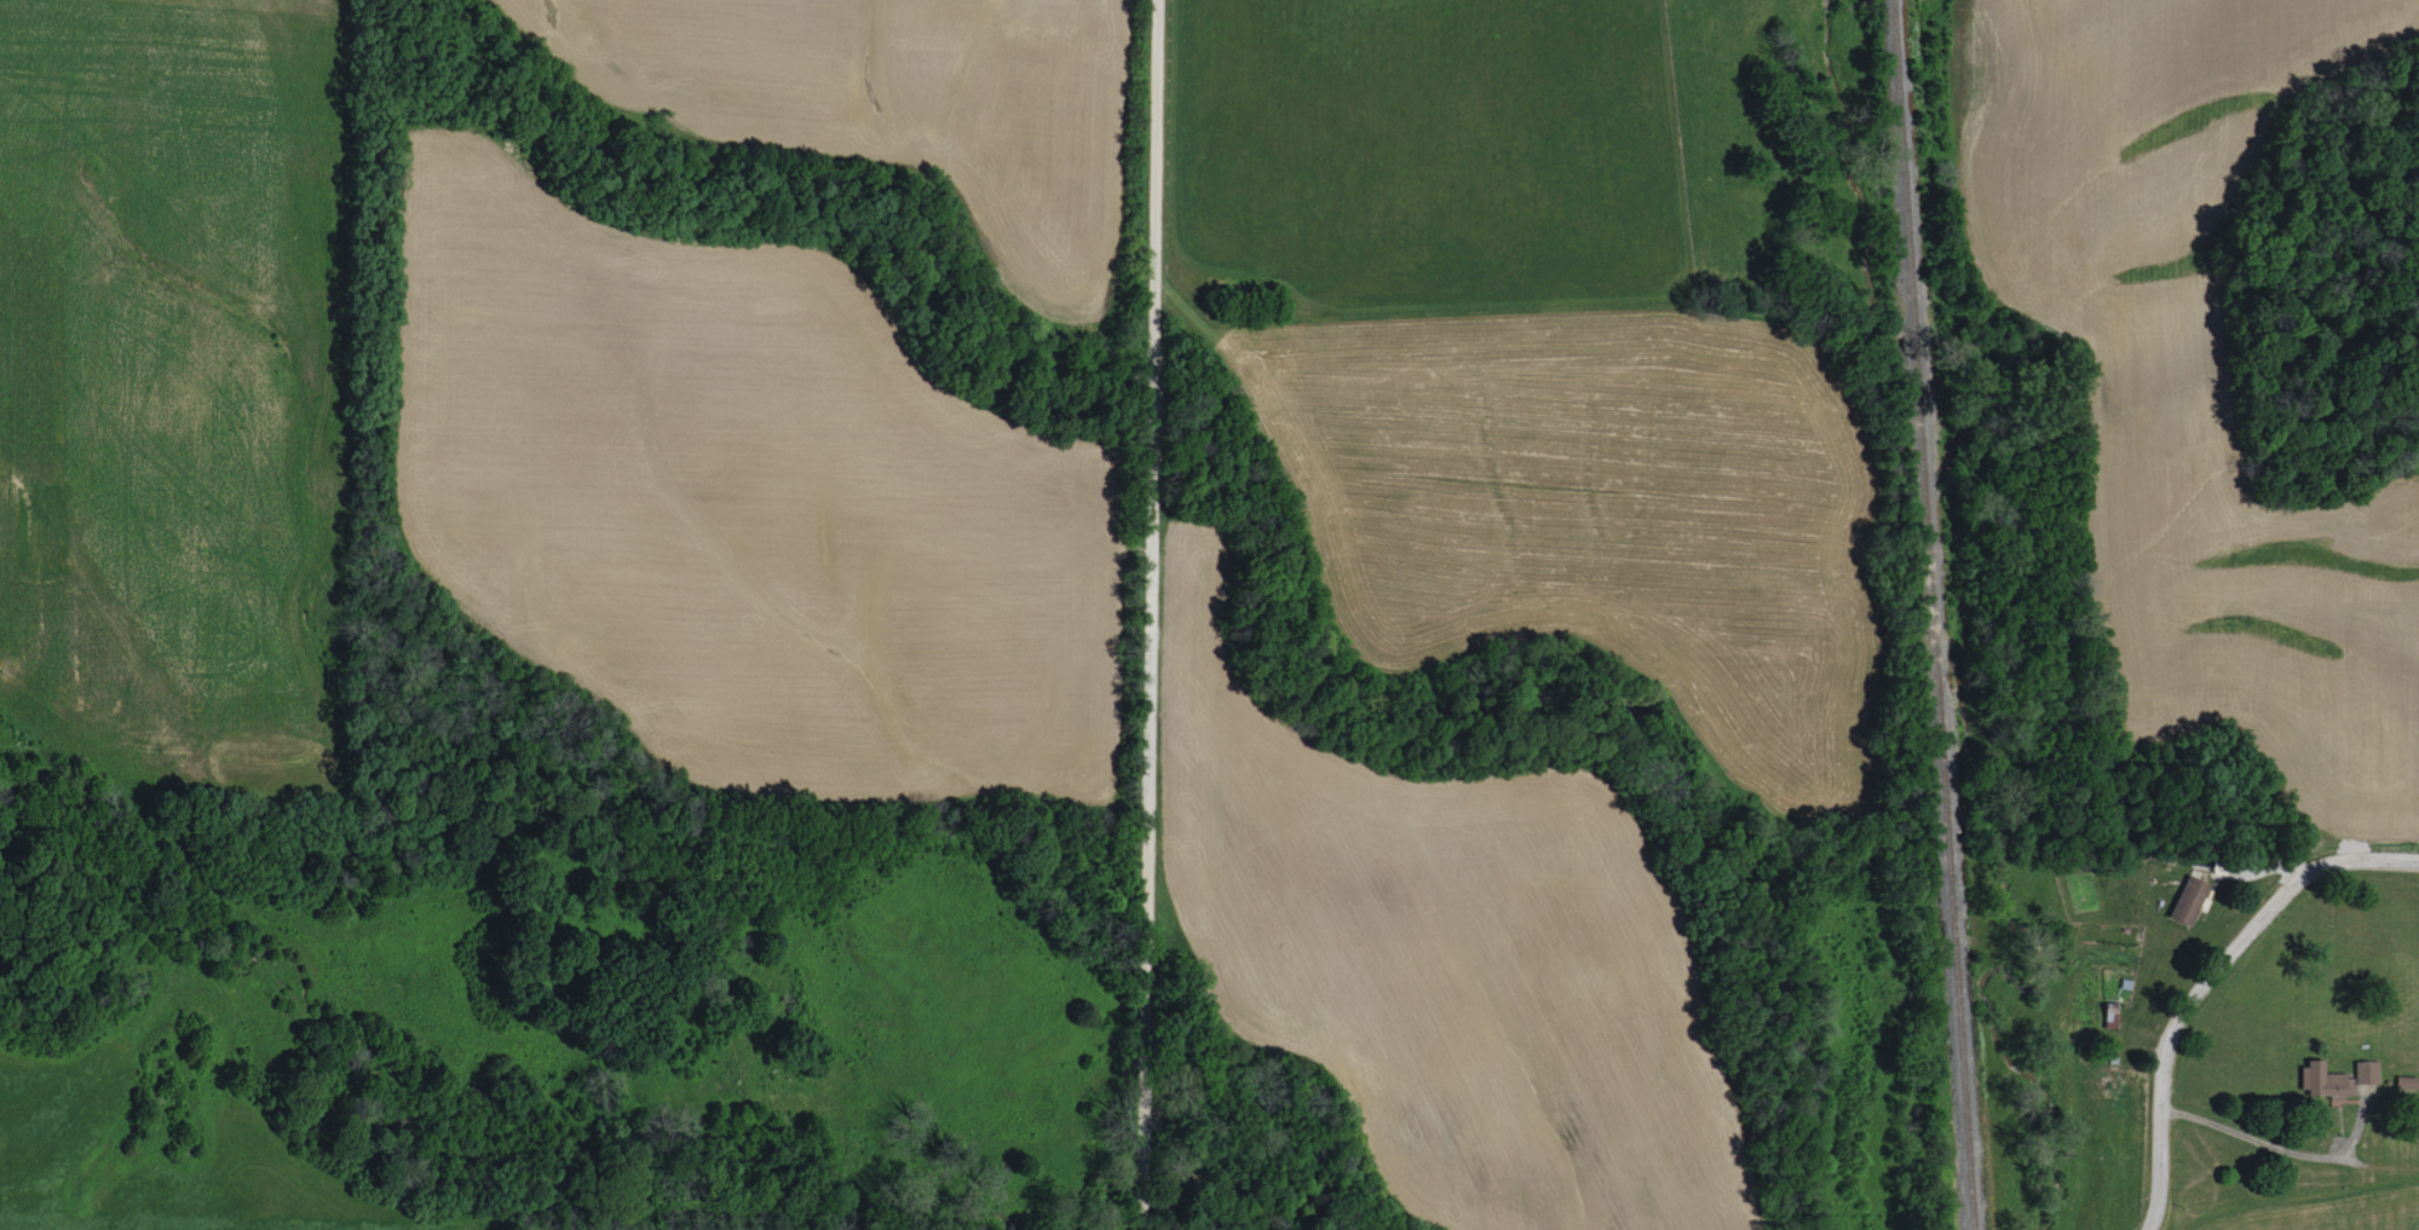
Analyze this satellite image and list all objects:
road: (1147, 614)
railway: (1933, 614)
road: (2328, 873)
building: (2190, 897)
building: (2367, 1072)
road: (2201, 1079)
building: (2327, 1081)

